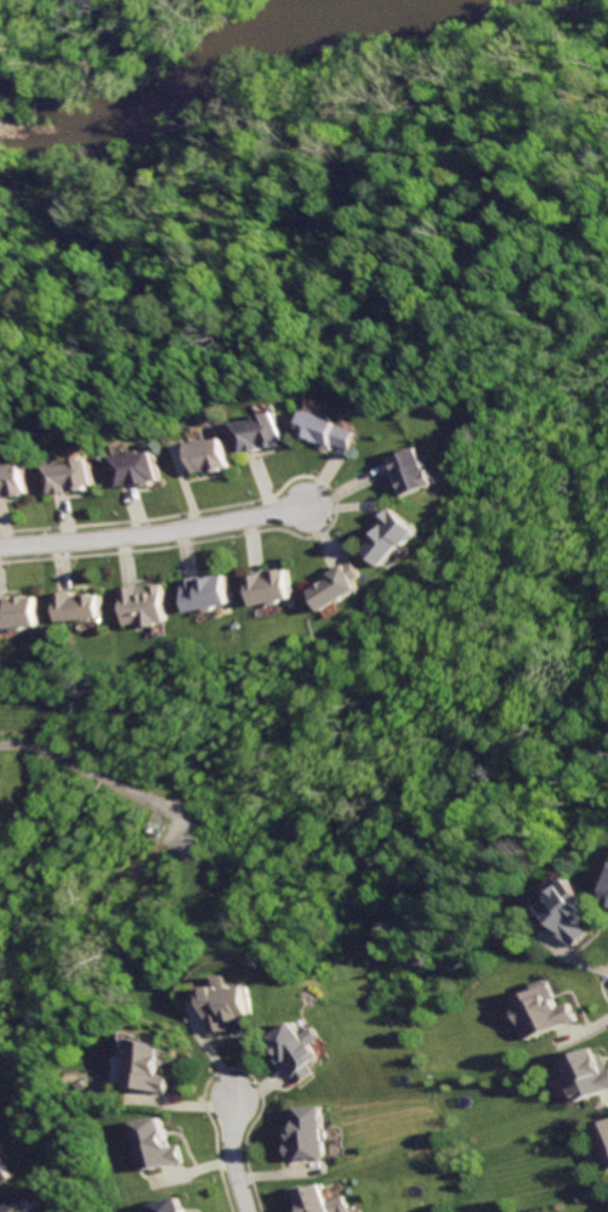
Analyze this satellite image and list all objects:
building: (268, 430)
building: (331, 430)
building: (215, 453)
building: (143, 466)
building: (413, 471)
building: (79, 475)
building: (18, 477)
road: (153, 533)
building: (392, 536)
building: (339, 583)
building: (269, 585)
building: (205, 591)
building: (76, 604)
building: (141, 604)
building: (18, 611)
road: (90, 770)
road: (62, 842)
building: (574, 911)
road: (601, 984)
building: (235, 1003)
building: (542, 1008)
building: (305, 1048)
building: (155, 1064)
road: (234, 1067)
building: (589, 1072)
building: (313, 1133)
building: (603, 1139)
building: (157, 1144)
road: (233, 1156)
building: (5, 1168)
building: (323, 1199)
building: (170, 1205)
building: (17, 1207)

